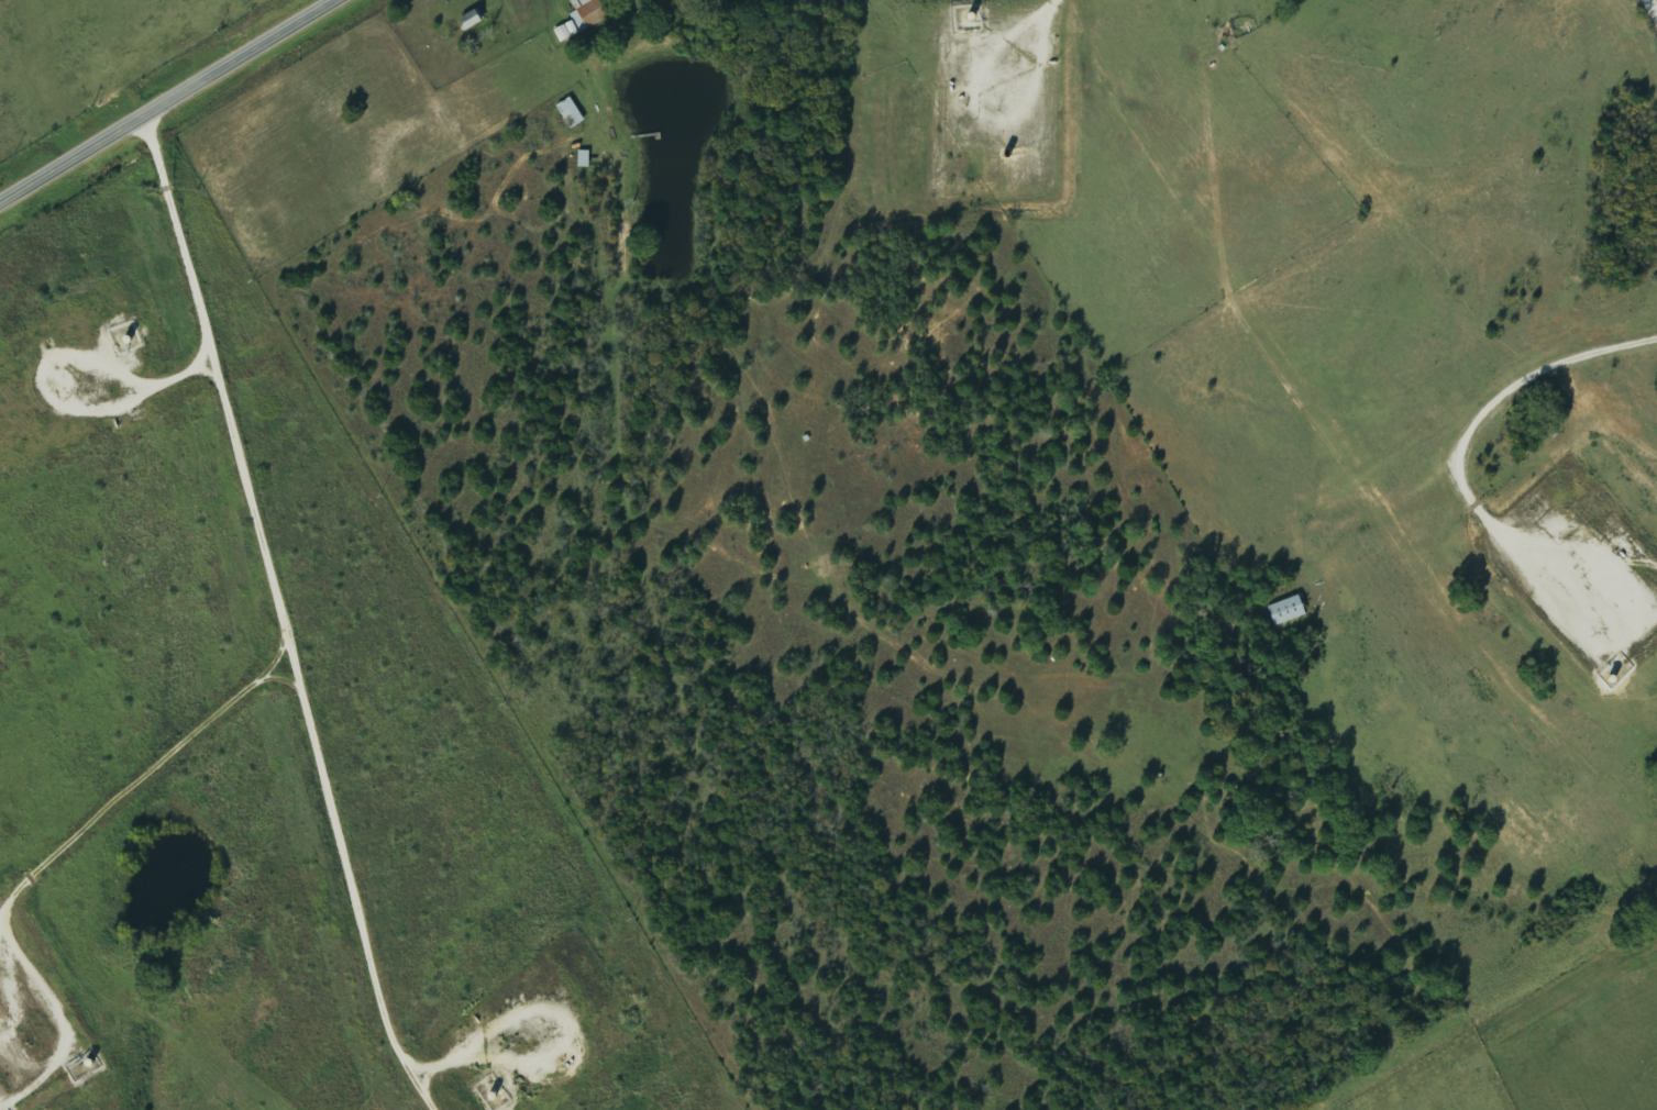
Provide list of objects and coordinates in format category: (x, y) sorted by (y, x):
road: (1650, 10)
building: (587, 16)
building: (475, 20)
road: (166, 99)
building: (573, 113)
building: (586, 159)
road: (276, 611)
building: (1288, 611)

